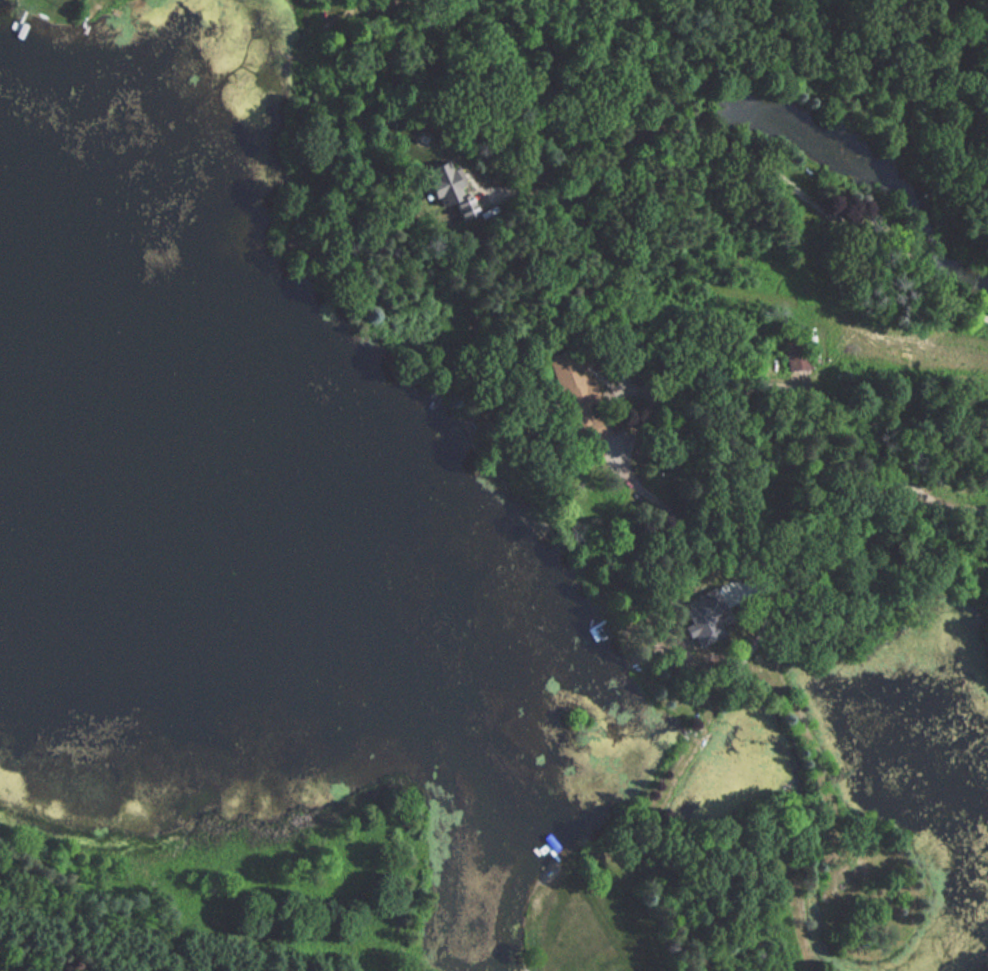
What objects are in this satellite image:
road: (875, 453)
road: (768, 578)

